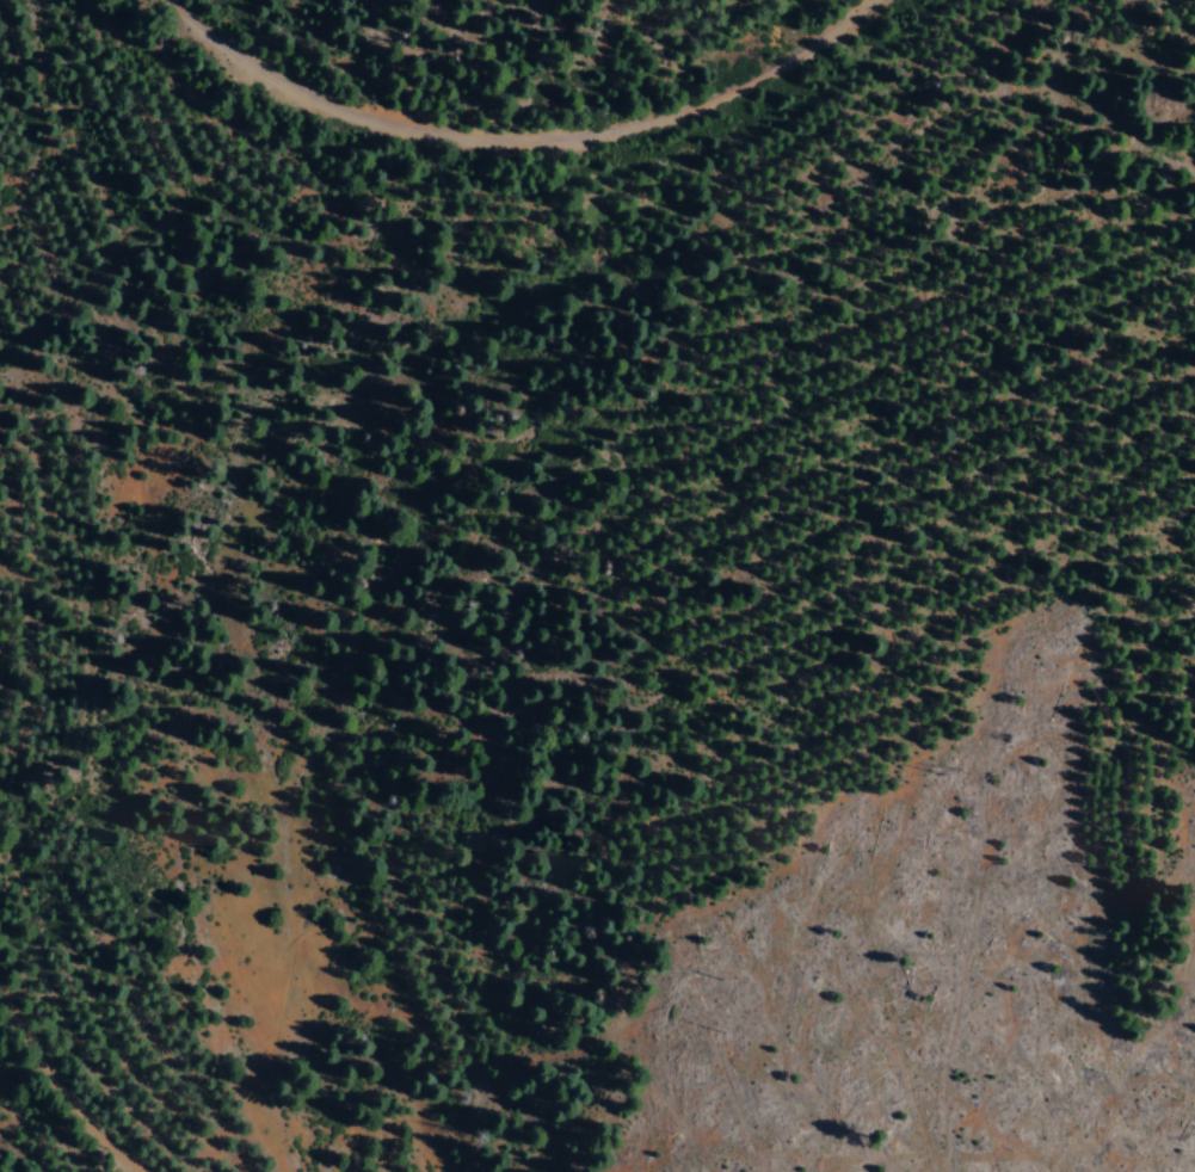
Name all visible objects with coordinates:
railway: (511, 136)
road: (82, 1056)

